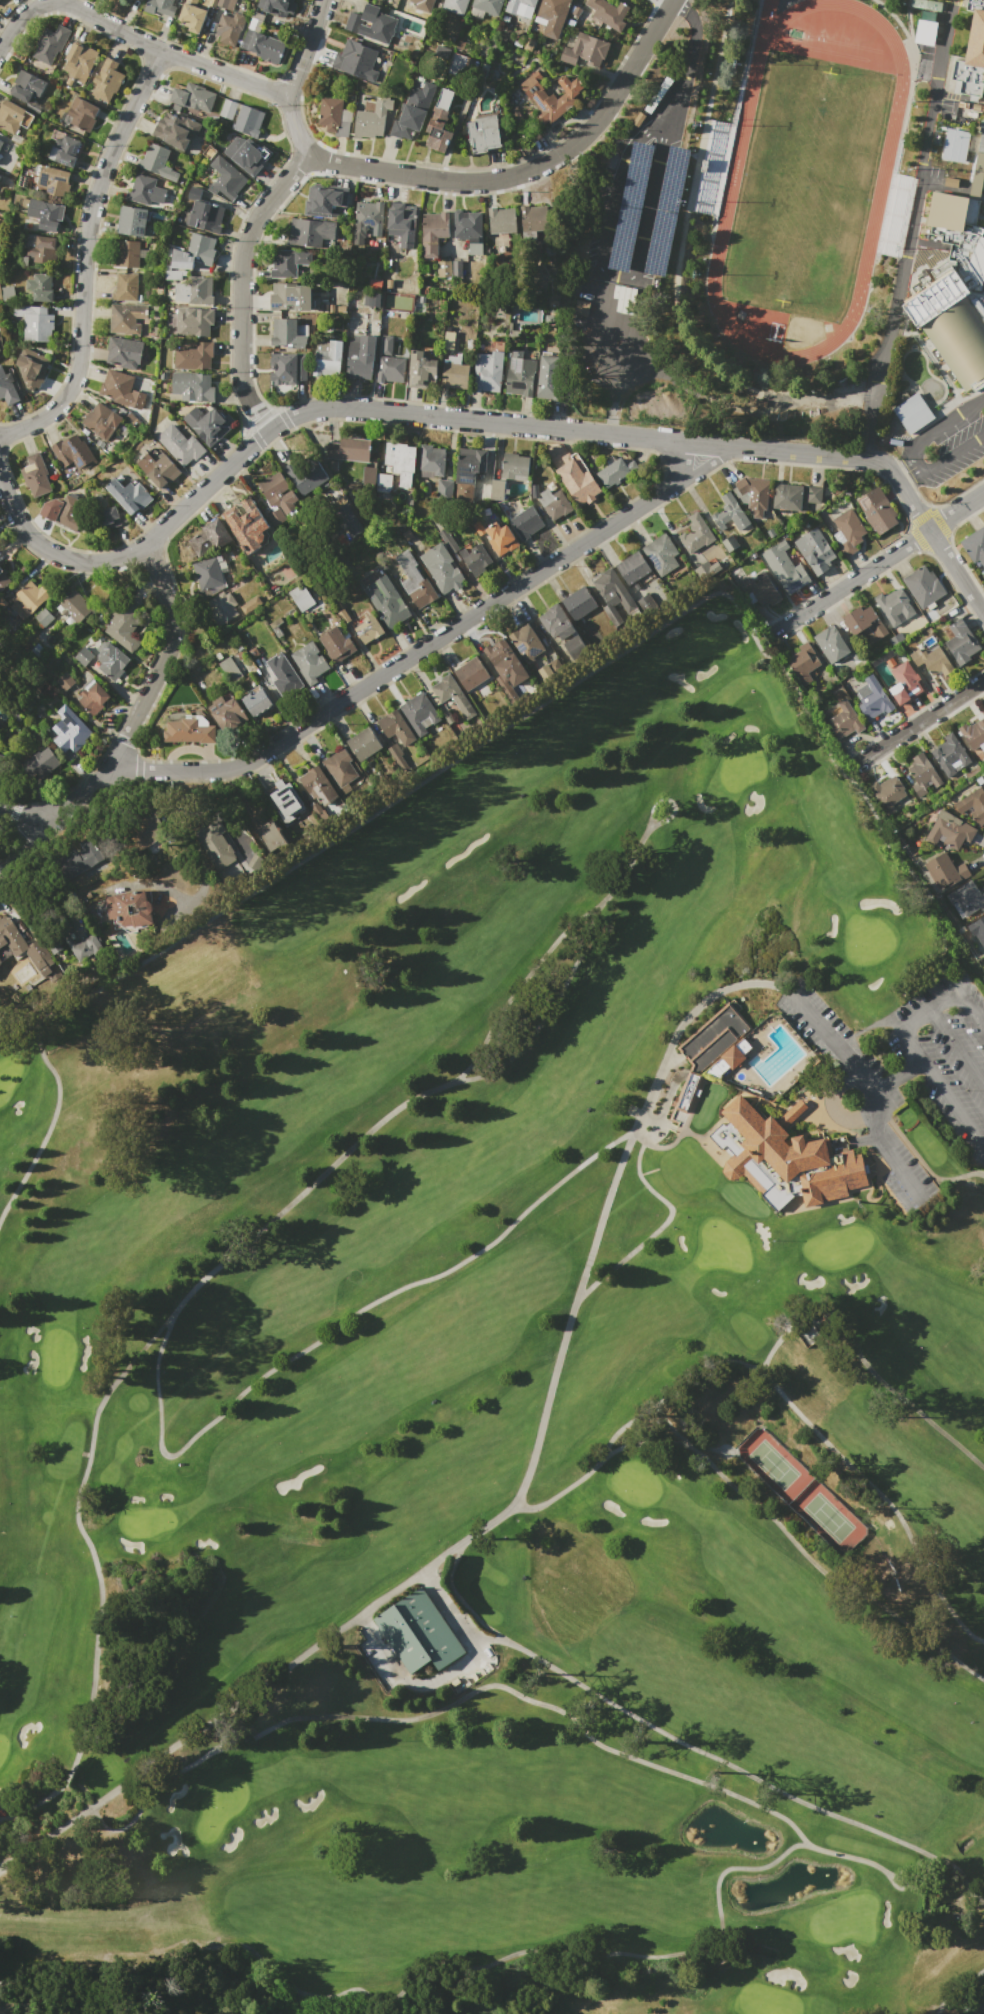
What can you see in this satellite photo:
building: (0, 0)
building: (430, 1)
road: (670, 1)
building: (212, 3)
building: (222, 3)
building: (455, 6)
building: (488, 6)
building: (160, 7)
building: (280, 7)
building: (520, 7)
building: (577, 11)
building: (607, 14)
building: (192, 15)
building: (552, 16)
building: (372, 23)
building: (230, 28)
building: (976, 34)
road: (135, 36)
building: (51, 44)
building: (528, 44)
building: (267, 47)
road: (306, 49)
building: (585, 51)
building: (442, 52)
road: (688, 58)
building: (356, 60)
building: (79, 61)
building: (457, 65)
building: (968, 77)
building: (983, 78)
building: (107, 80)
building: (27, 89)
building: (549, 97)
building: (191, 98)
building: (229, 109)
building: (413, 109)
building: (82, 113)
building: (13, 116)
building: (335, 116)
building: (517, 118)
building: (373, 119)
building: (439, 120)
building: (248, 121)
building: (176, 130)
building: (484, 134)
building: (981, 138)
building: (1, 143)
building: (954, 145)
building: (64, 151)
building: (250, 157)
building: (157, 162)
building: (979, 162)
track: (883, 170)
building: (227, 178)
road: (534, 178)
building: (53, 180)
track: (806, 181)
building: (976, 184)
park: (805, 186)
building: (145, 190)
building: (324, 200)
building: (952, 211)
building: (46, 213)
building: (205, 216)
building: (368, 220)
building: (502, 220)
building: (132, 221)
building: (400, 224)
building: (533, 225)
road: (911, 229)
building: (469, 230)
building: (310, 232)
building: (433, 233)
building: (40, 247)
building: (194, 252)
building: (126, 254)
road: (244, 255)
road: (85, 256)
building: (289, 262)
building: (457, 268)
building: (444, 269)
road: (607, 274)
building: (375, 284)
building: (40, 287)
building: (125, 287)
building: (194, 291)
building: (8, 293)
building: (291, 297)
building: (371, 299)
building: (127, 318)
building: (35, 322)
building: (193, 322)
building: (288, 334)
building: (450, 338)
building: (124, 352)
building: (193, 357)
building: (326, 358)
building: (360, 358)
building: (389, 363)
building: (32, 368)
building: (287, 368)
building: (421, 370)
building: (487, 372)
building: (454, 374)
building: (520, 374)
building: (547, 376)
building: (192, 386)
building: (7, 388)
building: (121, 389)
building: (911, 412)
building: (101, 421)
road: (483, 421)
building: (208, 424)
road: (931, 433)
building: (180, 444)
building: (349, 449)
building: (73, 452)
road: (941, 459)
building: (400, 461)
building: (430, 461)
building: (159, 467)
building: (514, 467)
building: (468, 472)
building: (614, 472)
building: (35, 474)
building: (368, 474)
building: (309, 477)
building: (578, 480)
building: (382, 482)
building: (443, 489)
building: (497, 490)
building: (534, 491)
building: (130, 494)
building: (813, 494)
building: (753, 495)
building: (787, 496)
building: (278, 498)
building: (554, 504)
building: (877, 510)
building: (62, 512)
building: (105, 512)
building: (730, 513)
building: (526, 522)
building: (247, 526)
building: (478, 528)
building: (848, 532)
building: (696, 534)
building: (209, 537)
building: (500, 538)
building: (448, 541)
building: (729, 543)
building: (975, 545)
building: (815, 551)
building: (661, 554)
building: (475, 558)
road: (877, 564)
building: (632, 567)
building: (441, 568)
building: (785, 568)
building: (209, 573)
building: (2, 578)
building: (414, 581)
building: (613, 587)
building: (924, 587)
building: (760, 588)
building: (30, 596)
building: (301, 598)
building: (386, 601)
building: (578, 602)
building: (250, 604)
building: (895, 605)
building: (74, 608)
building: (221, 608)
building: (554, 619)
building: (125, 624)
building: (864, 625)
building: (276, 627)
building: (368, 628)
building: (526, 642)
building: (961, 642)
road: (433, 643)
building: (336, 644)
building: (833, 644)
building: (83, 656)
building: (930, 658)
building: (310, 662)
building: (505, 662)
building: (802, 662)
building: (113, 663)
building: (233, 667)
building: (471, 674)
building: (283, 675)
building: (905, 683)
road: (149, 694)
building: (450, 695)
building: (93, 697)
building: (874, 699)
building: (259, 702)
building: (230, 712)
building: (419, 713)
building: (844, 720)
road: (919, 721)
building: (394, 727)
building: (191, 730)
building: (69, 731)
building: (973, 734)
building: (362, 744)
building: (950, 755)
building: (398, 758)
building: (1, 762)
building: (40, 763)
building: (339, 768)
building: (923, 773)
building: (316, 784)
building: (888, 793)
building: (285, 802)
building: (973, 804)
road: (26, 813)
building: (950, 830)
building: (142, 832)
building: (272, 837)
building: (214, 843)
road: (27, 845)
building: (85, 855)
building: (945, 871)
building: (967, 898)
building: (131, 908)
building: (977, 929)
building: (22, 946)
building: (83, 946)
road: (941, 993)
road: (970, 1004)
road: (910, 1013)
road: (826, 1033)
road: (955, 1043)
building: (708, 1056)
road: (662, 1067)
parking lot: (903, 1074)
road: (895, 1075)
road: (853, 1080)
road: (939, 1087)
road: (863, 1139)
building: (785, 1157)
road: (894, 1160)
park: (512, 1410)
park: (773, 1465)
park: (828, 1517)
building: (418, 1632)

